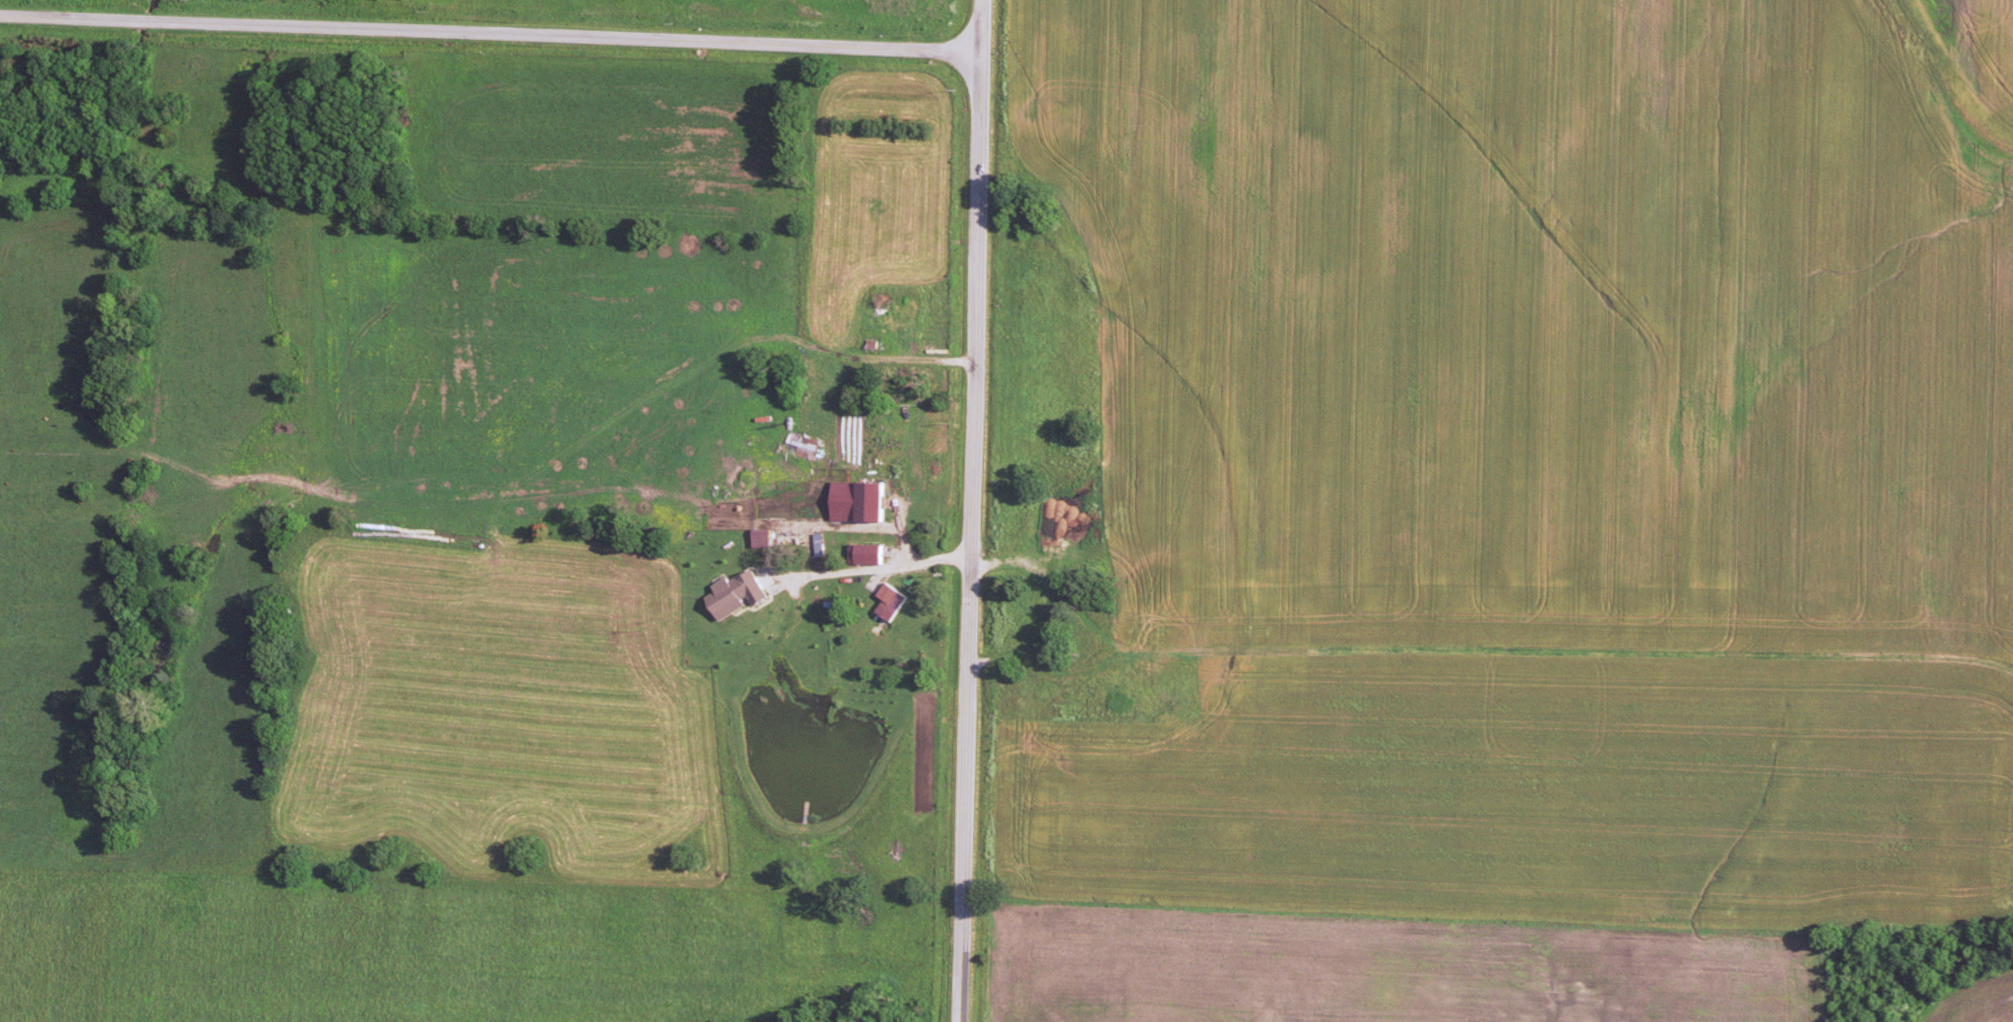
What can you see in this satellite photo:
road: (490, 32)
road: (879, 357)
building: (861, 499)
road: (971, 511)
building: (764, 535)
building: (820, 541)
building: (868, 551)
building: (738, 592)
building: (892, 599)

